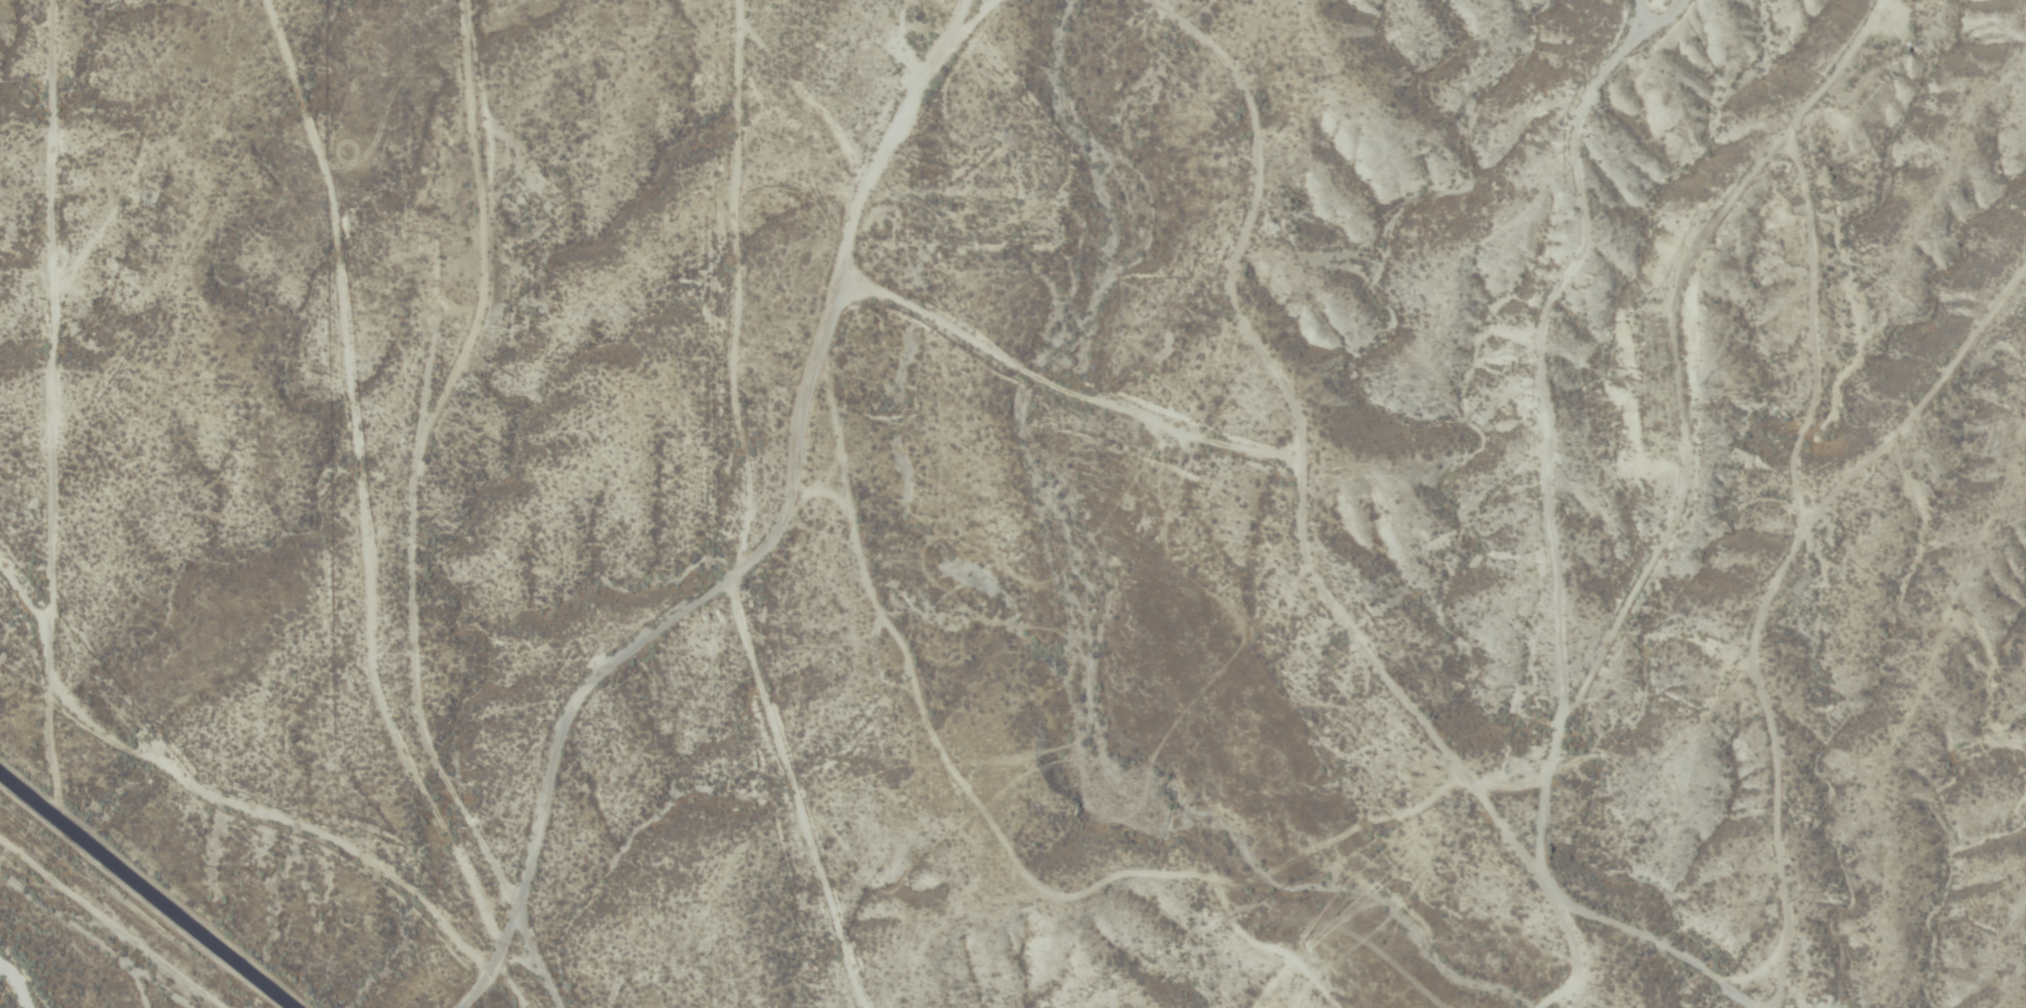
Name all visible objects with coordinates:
road: (414, 449)
road: (1574, 538)
road: (756, 541)
road: (147, 889)

